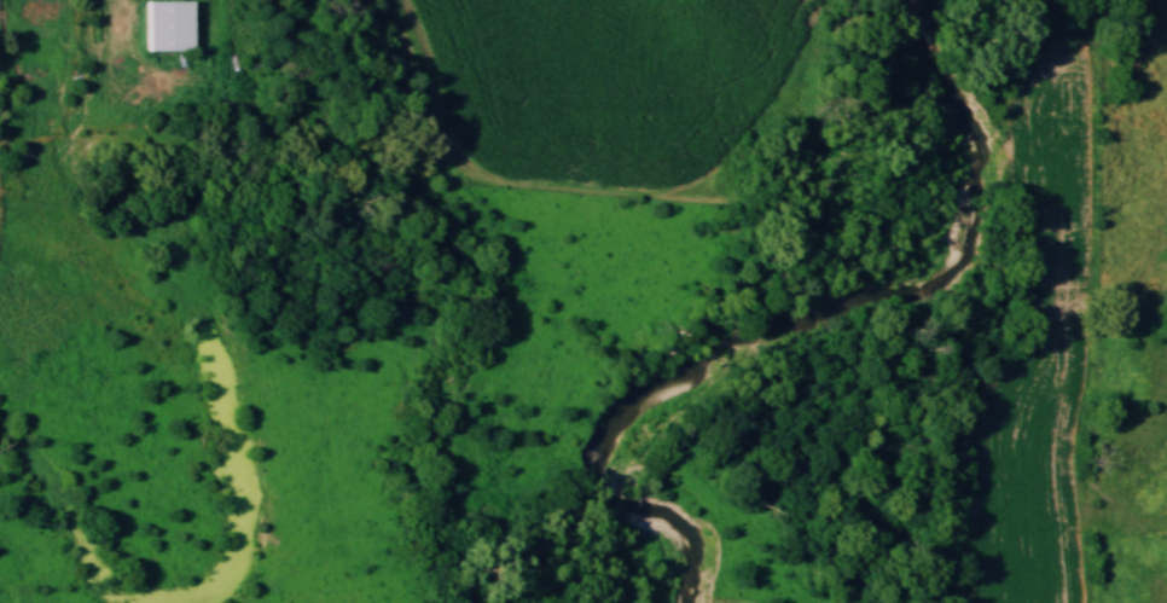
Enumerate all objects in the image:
building: (161, 24)

